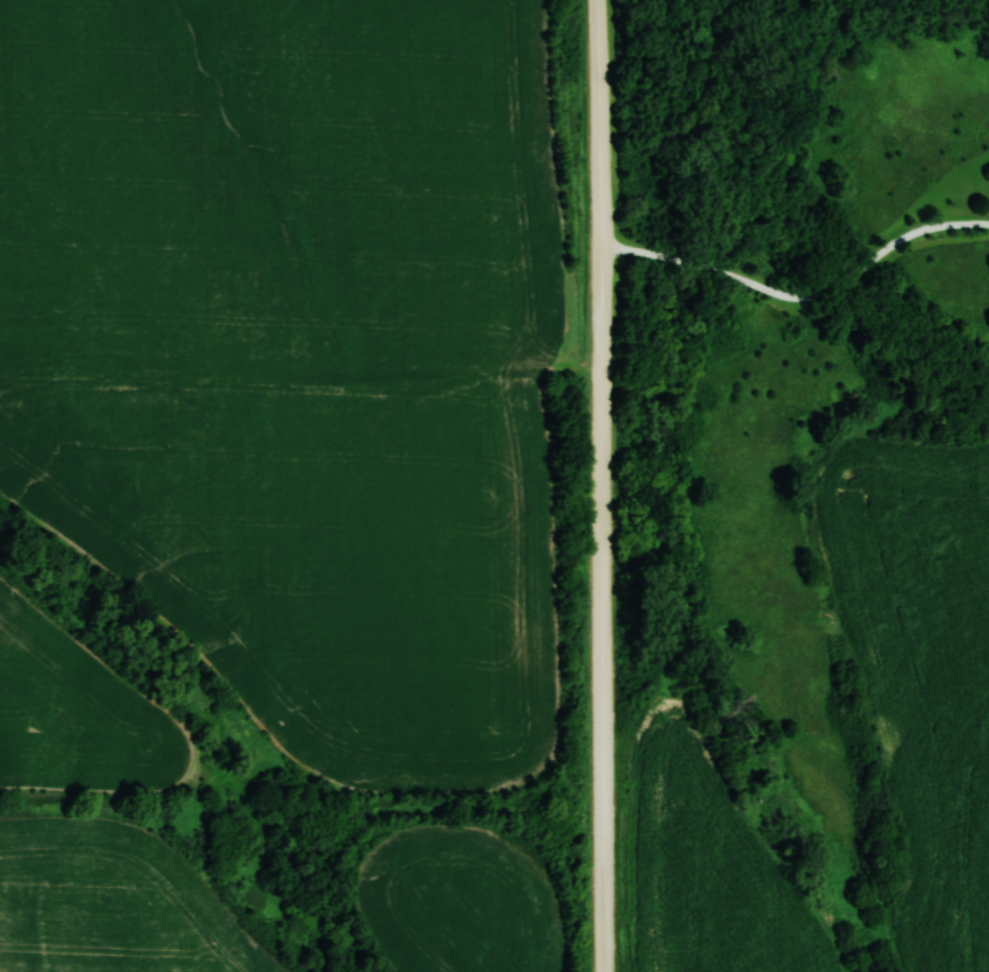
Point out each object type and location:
road: (802, 298)
road: (604, 485)

